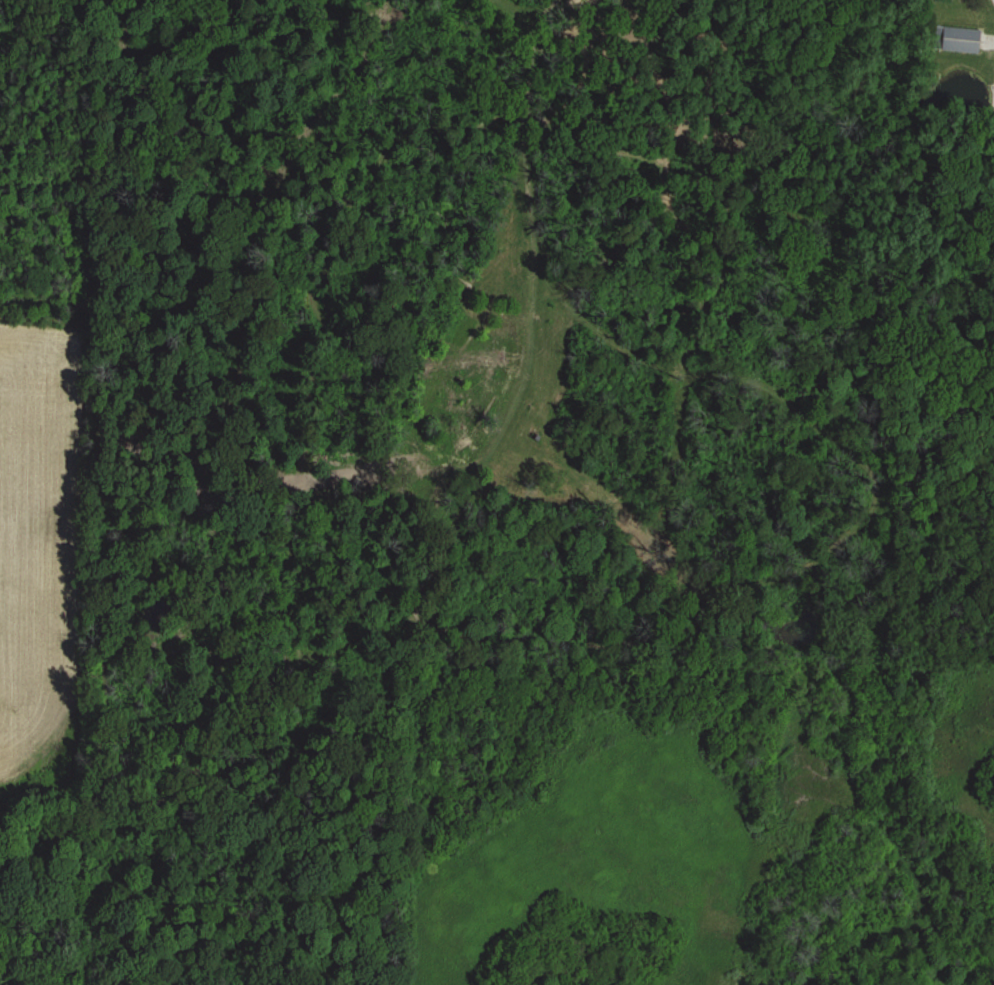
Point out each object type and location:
building: (957, 38)

